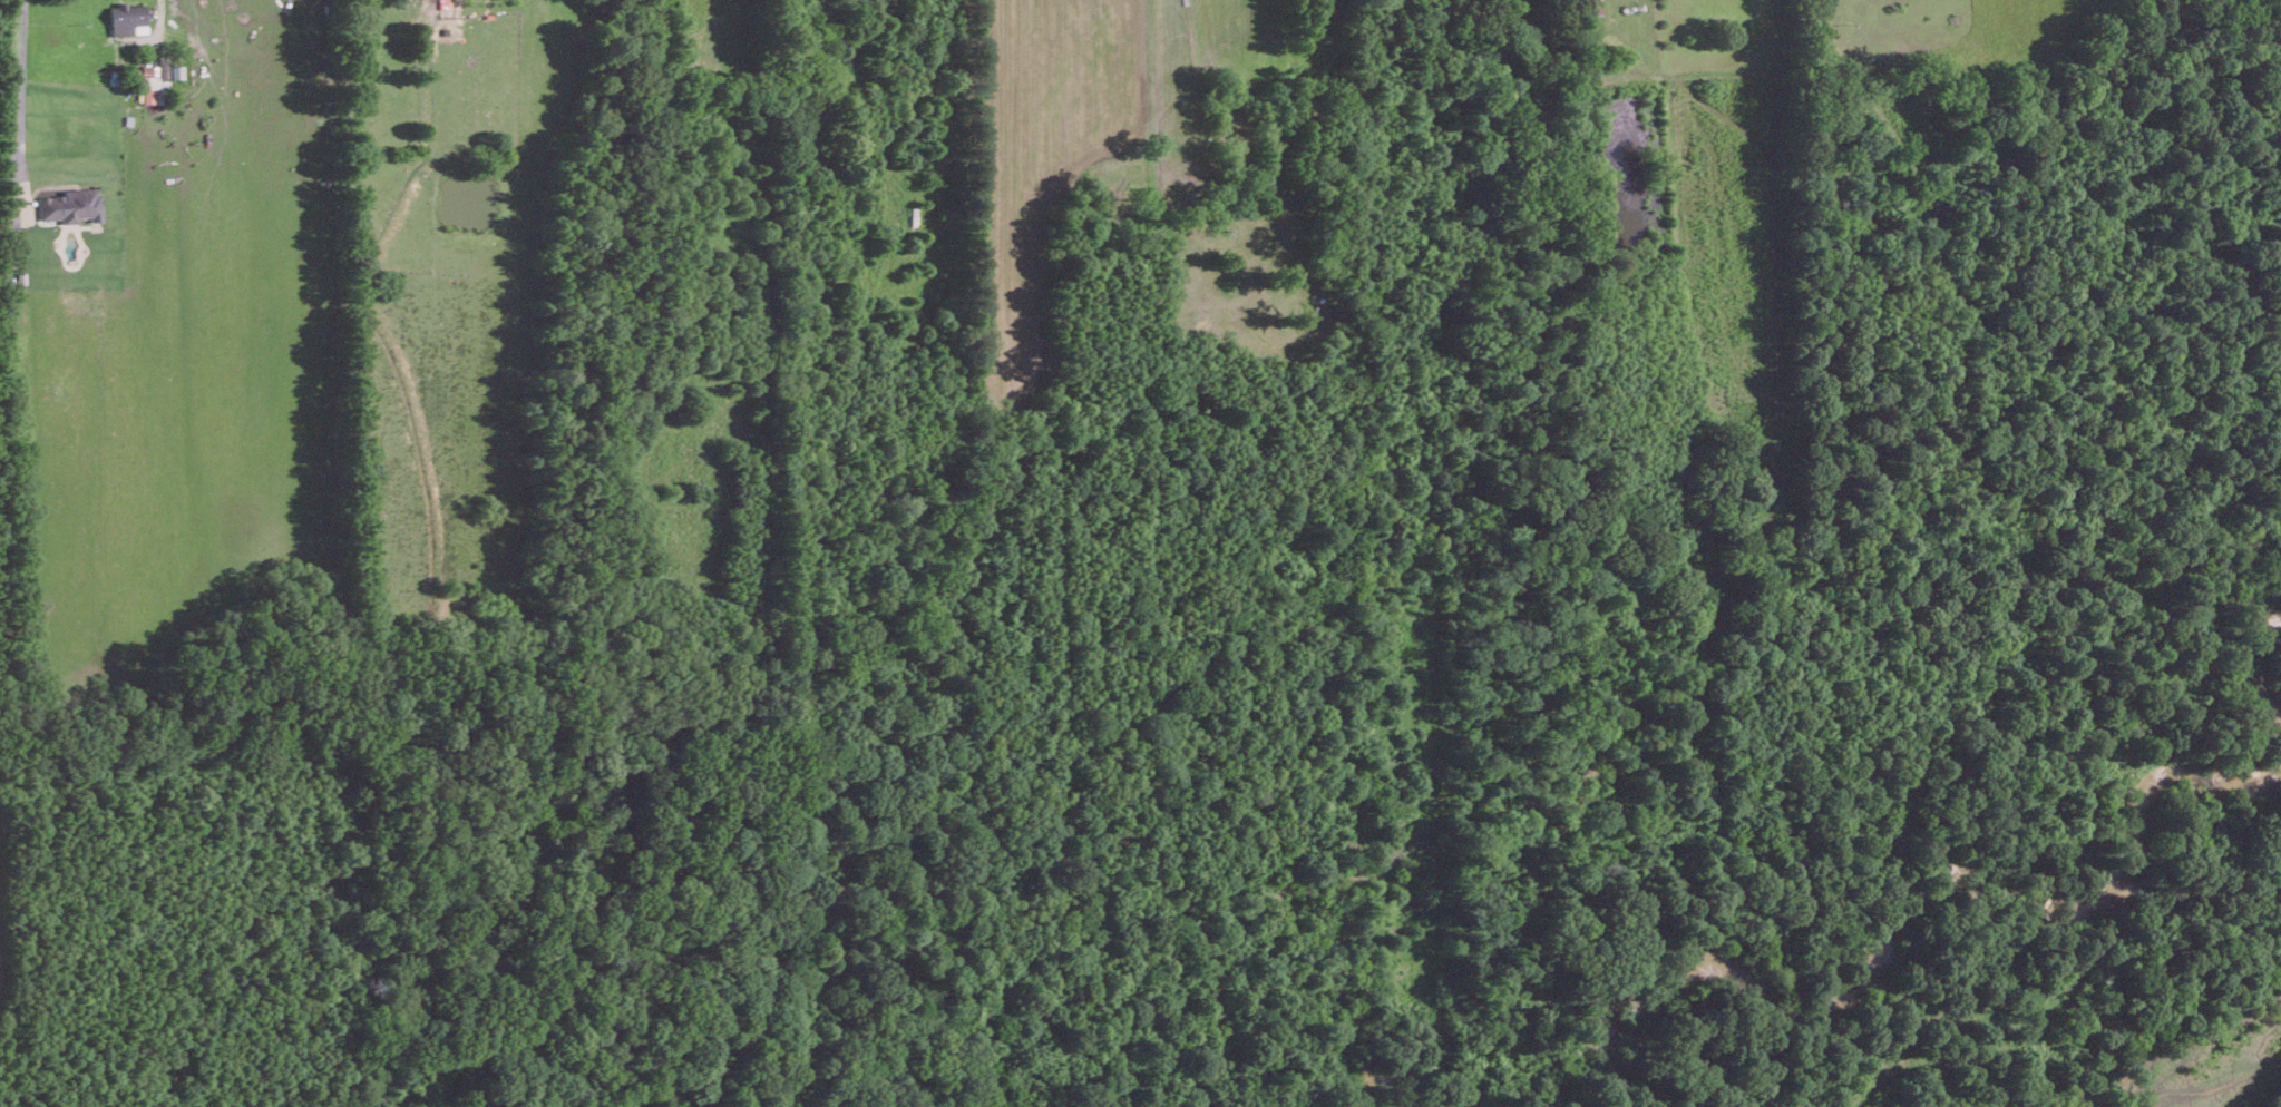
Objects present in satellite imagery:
road: (159, 0)
building: (127, 17)
road: (21, 97)
building: (69, 204)
river: (2253, 652)
river: (1918, 909)
river: (1381, 1081)

